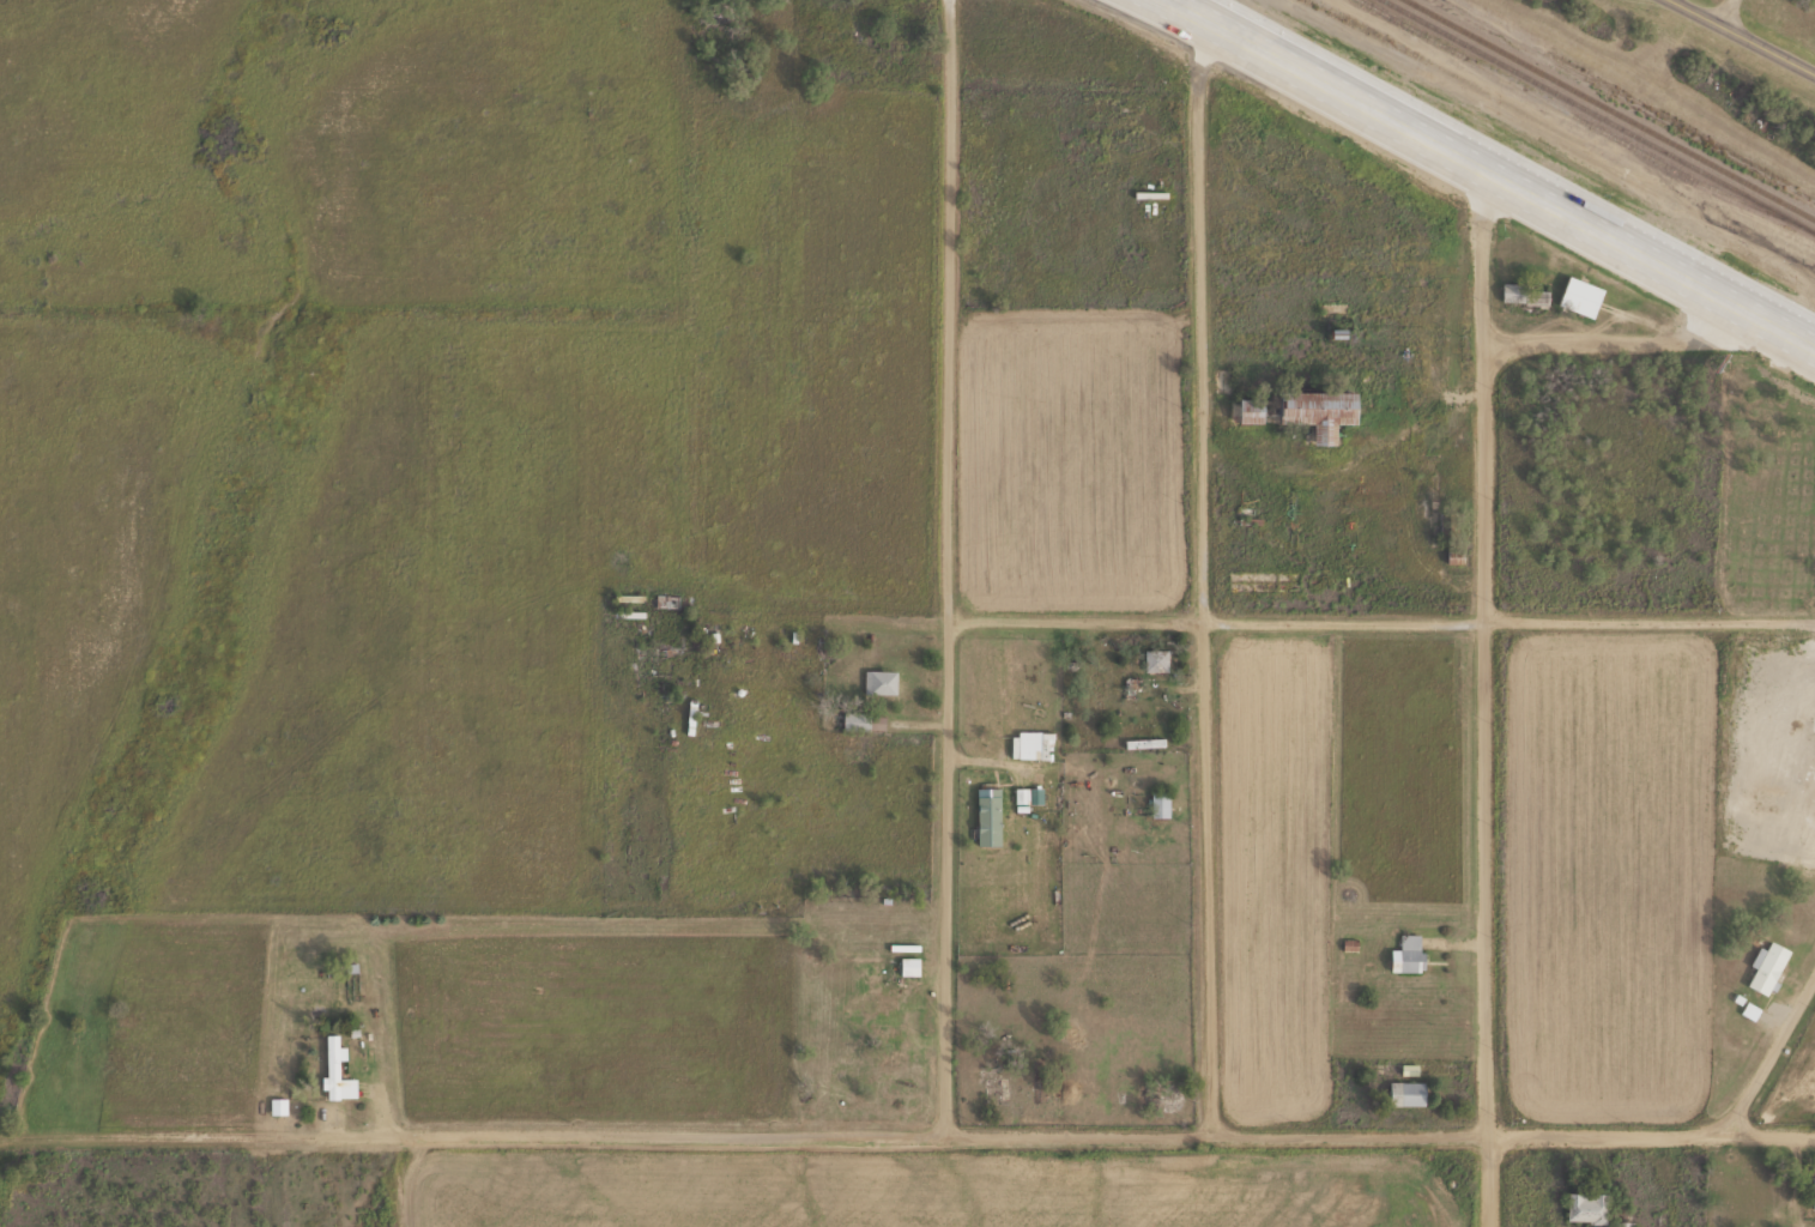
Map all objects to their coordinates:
road: (1732, 13)
road: (1743, 36)
railway: (1615, 108)
railway: (1602, 115)
road: (1500, 169)
building: (1523, 294)
building: (1578, 295)
road: (1616, 334)
building: (1221, 358)
building: (1246, 409)
building: (1314, 410)
road: (955, 564)
road: (1211, 568)
road: (1324, 621)
building: (1154, 659)
building: (878, 681)
road: (1490, 695)
building: (854, 719)
building: (1157, 804)
building: (1404, 954)
building: (908, 965)
building: (1766, 967)
road: (1763, 1044)
building: (334, 1069)
building: (1403, 1092)
road: (1385, 1126)
road: (478, 1135)
road: (271, 1181)
building: (1813, 1192)
building: (1584, 1207)
building: (1622, 1223)

